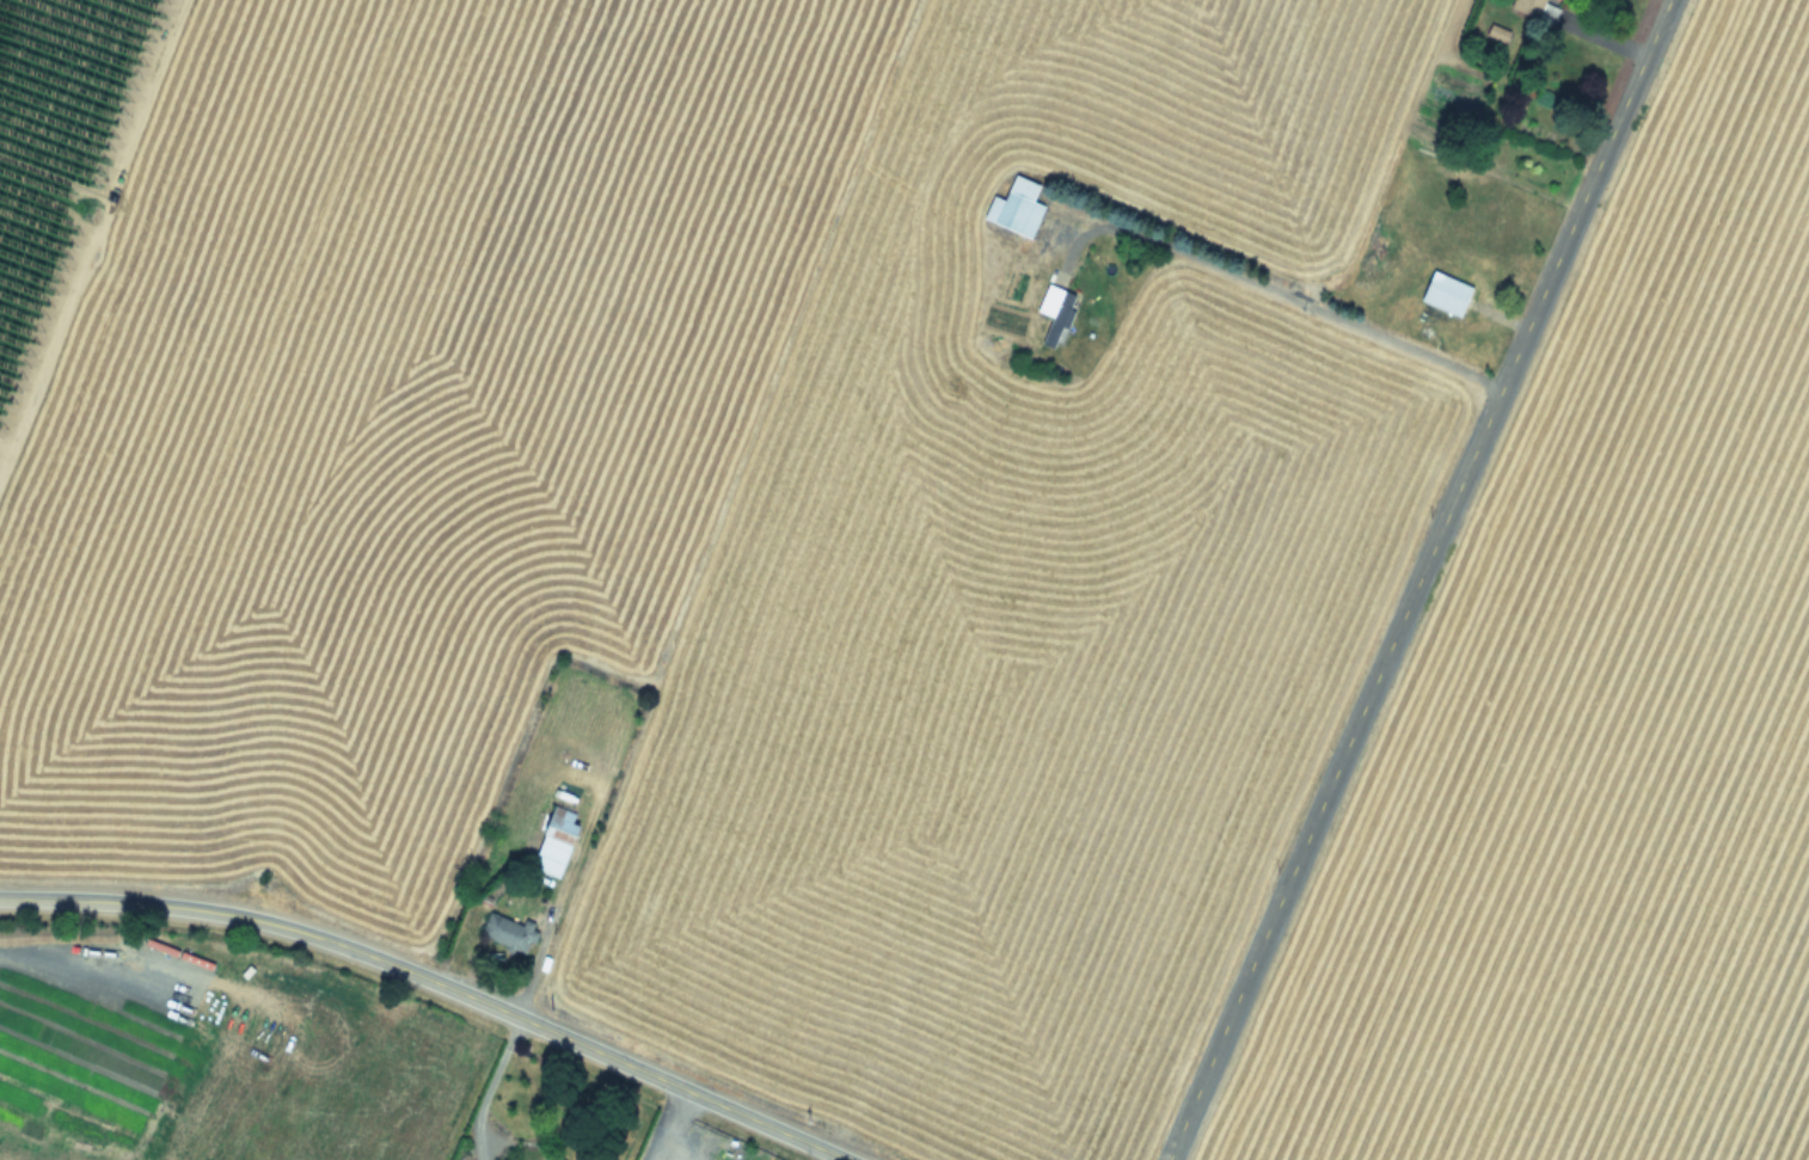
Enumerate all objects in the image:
building: (1537, 8)
building: (1013, 208)
road: (1276, 290)
building: (1443, 294)
building: (1051, 315)
crop: (953, 539)
road: (1417, 579)
building: (552, 841)
building: (505, 933)
road: (435, 982)
crop: (271, 1070)
road: (486, 1086)
road: (666, 1123)
road: (661, 1155)

